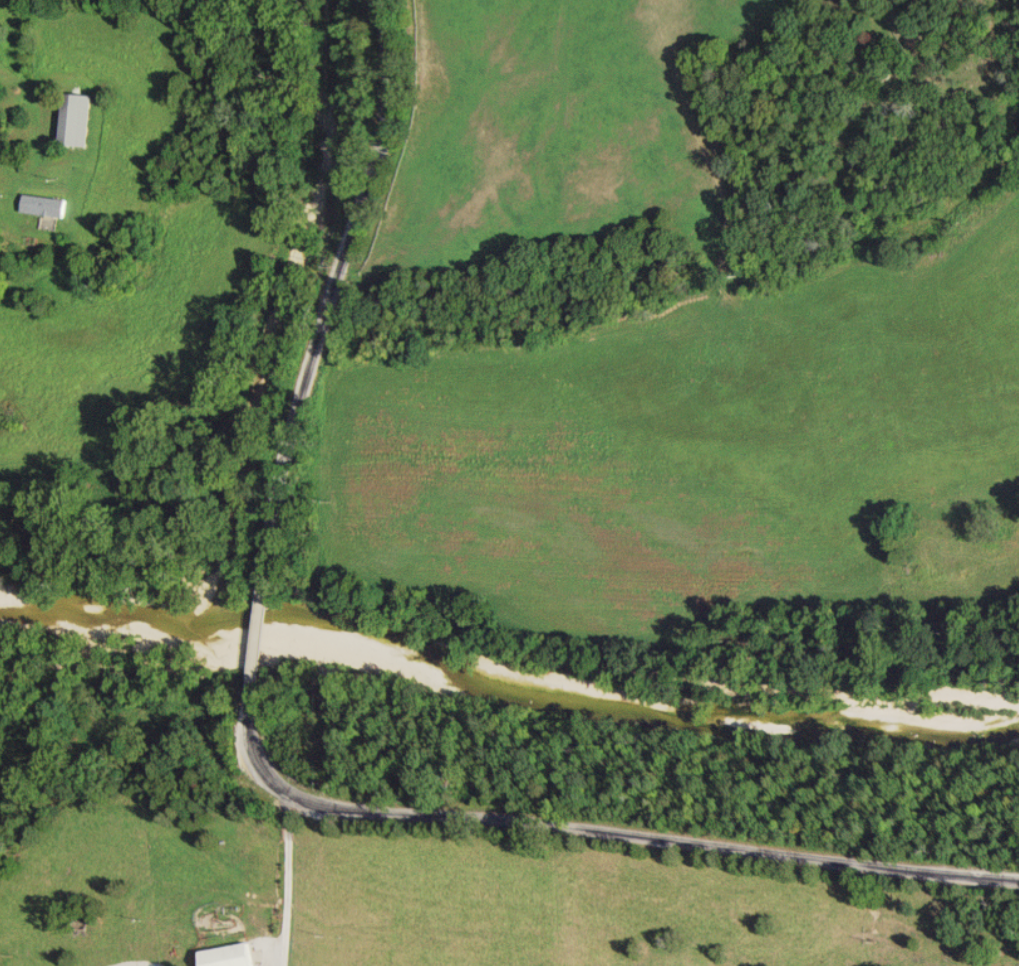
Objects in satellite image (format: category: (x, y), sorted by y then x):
road: (44, 85)
building: (80, 118)
building: (46, 205)
road: (349, 274)
road: (262, 628)
road: (607, 832)
road: (293, 882)
road: (853, 914)
building: (234, 956)

